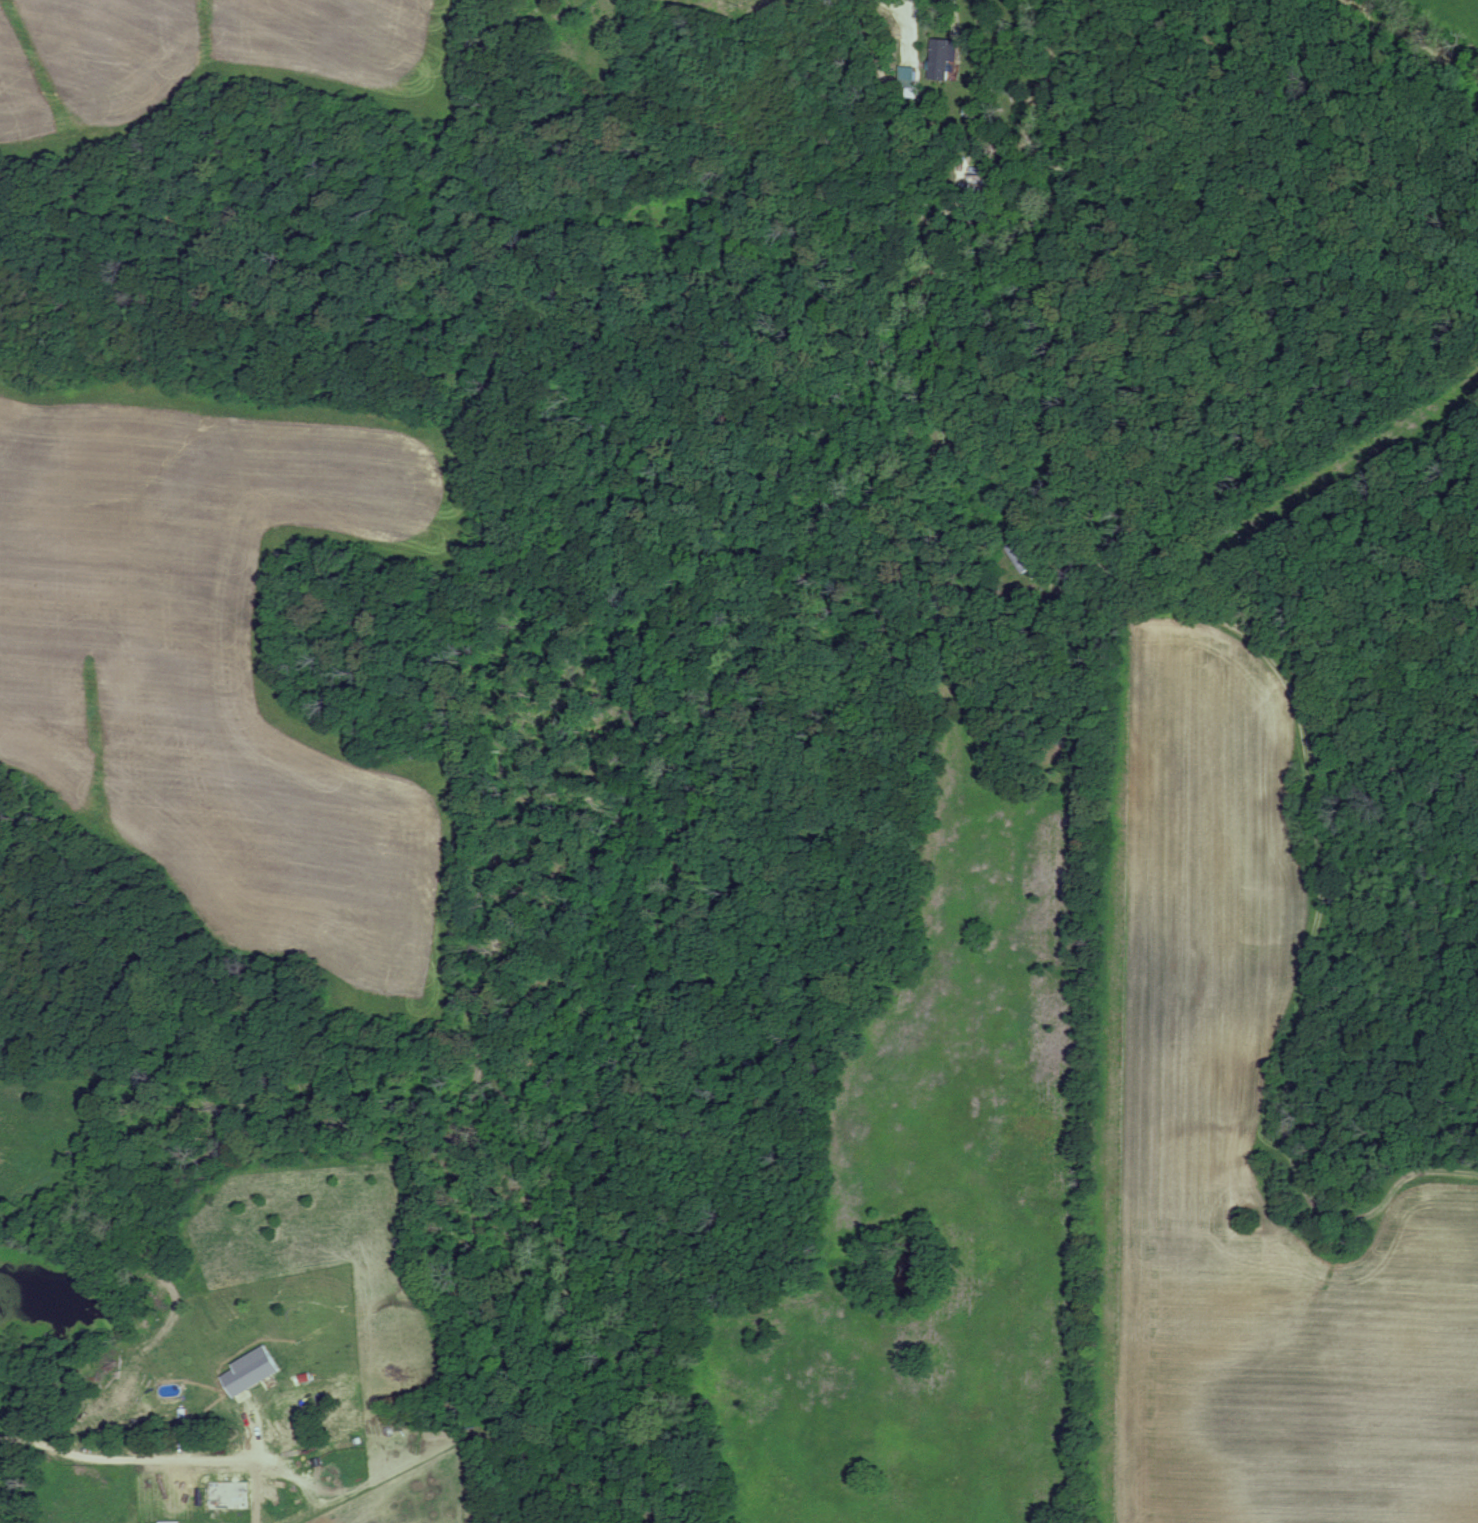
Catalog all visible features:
building: (943, 61)
building: (1022, 558)
road: (1218, 618)
road: (128, 1456)

